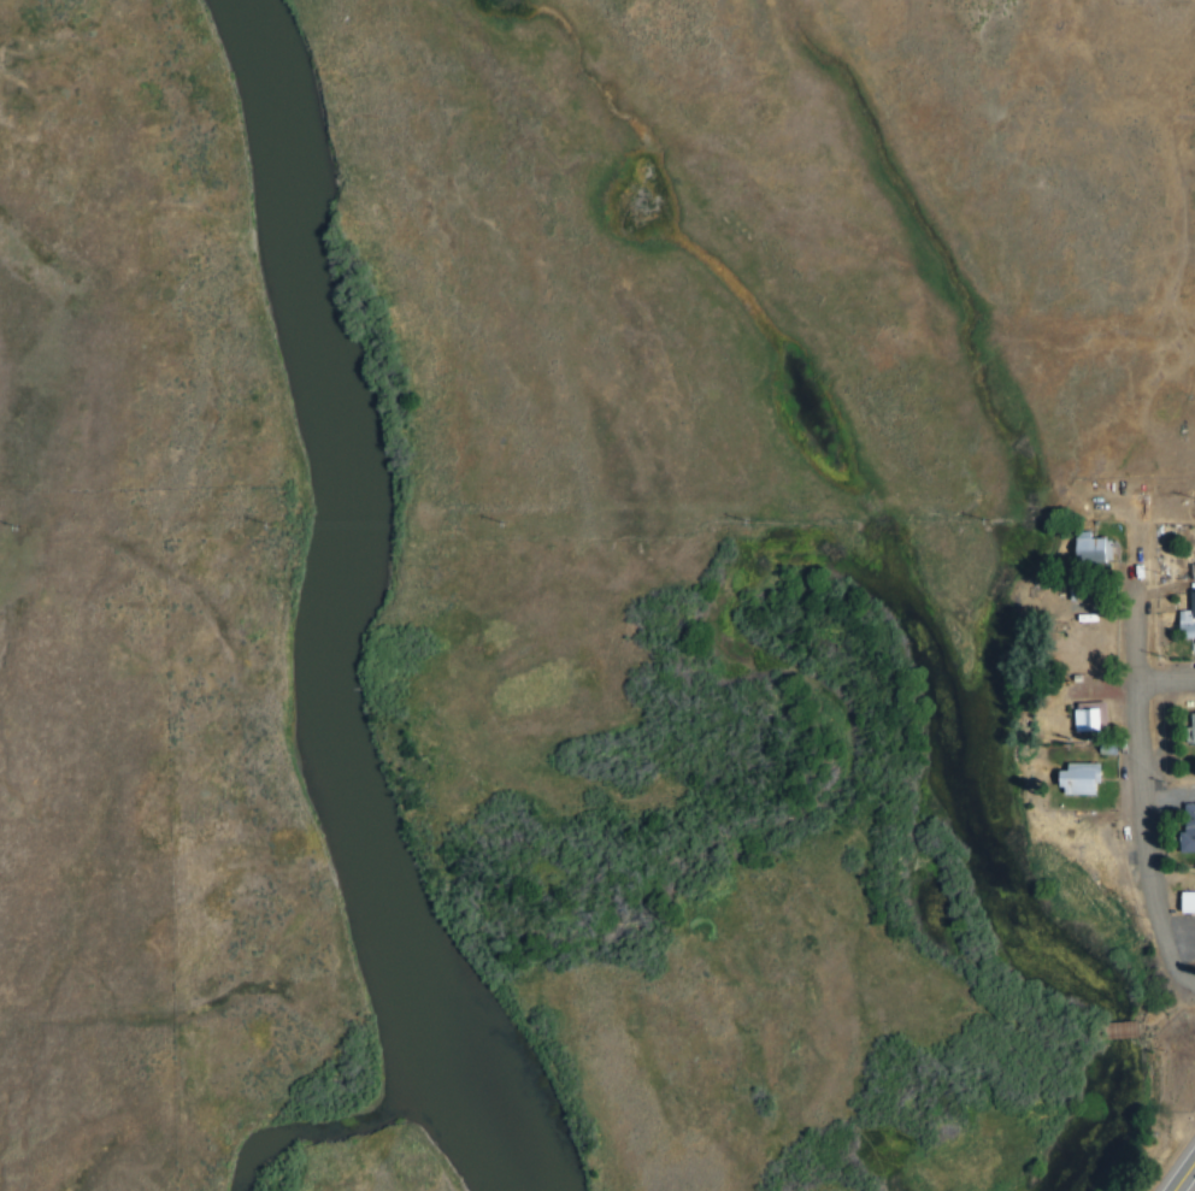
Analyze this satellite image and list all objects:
building: (1088, 549)
building: (1106, 549)
river: (358, 613)
building: (1193, 624)
road: (1153, 631)
road: (1175, 684)
building: (1101, 718)
building: (1189, 730)
building: (1093, 779)
road: (1159, 831)
building: (1193, 842)
building: (1185, 902)
road: (1187, 1179)

